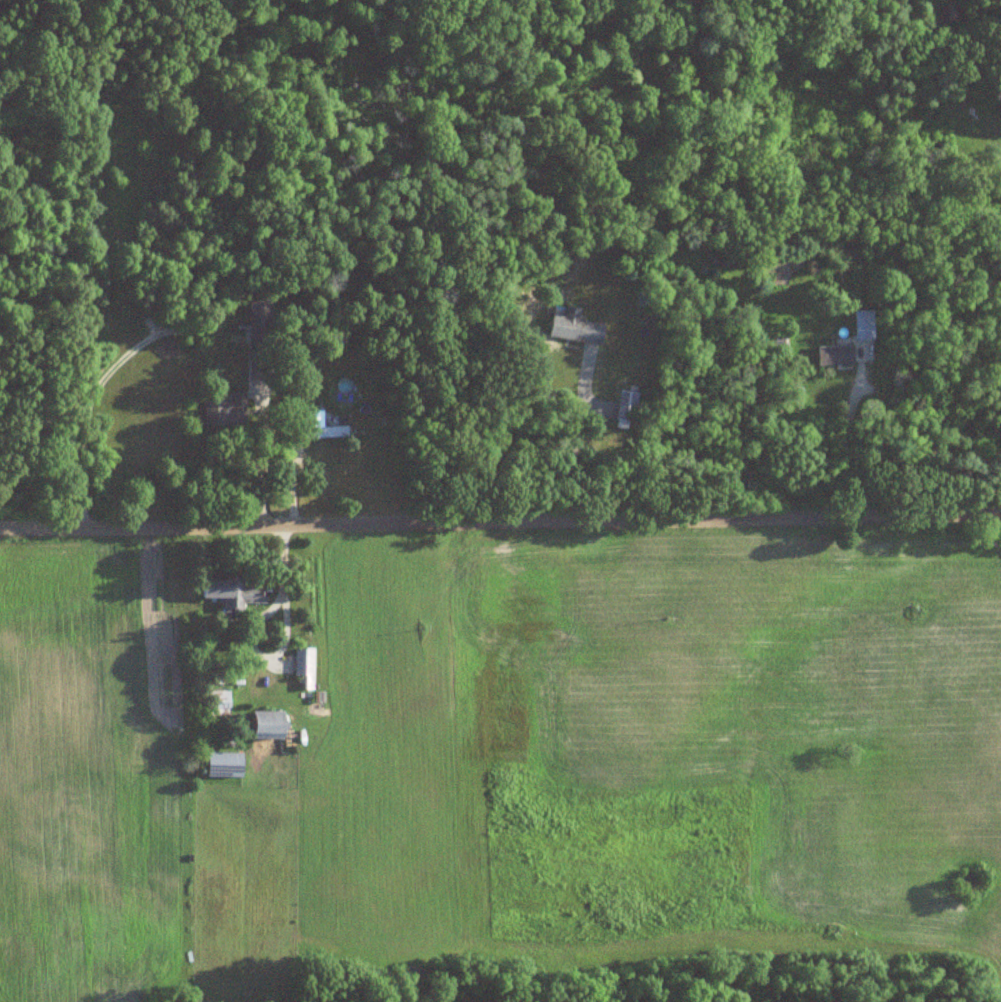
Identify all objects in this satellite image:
building: (861, 325)
building: (570, 328)
building: (256, 351)
building: (831, 356)
road: (92, 385)
building: (623, 410)
building: (222, 412)
building: (317, 428)
road: (571, 442)
road: (845, 443)
road: (263, 461)
road: (500, 523)
building: (230, 594)
road: (283, 637)
building: (301, 667)
building: (216, 702)
building: (260, 725)
building: (219, 765)

